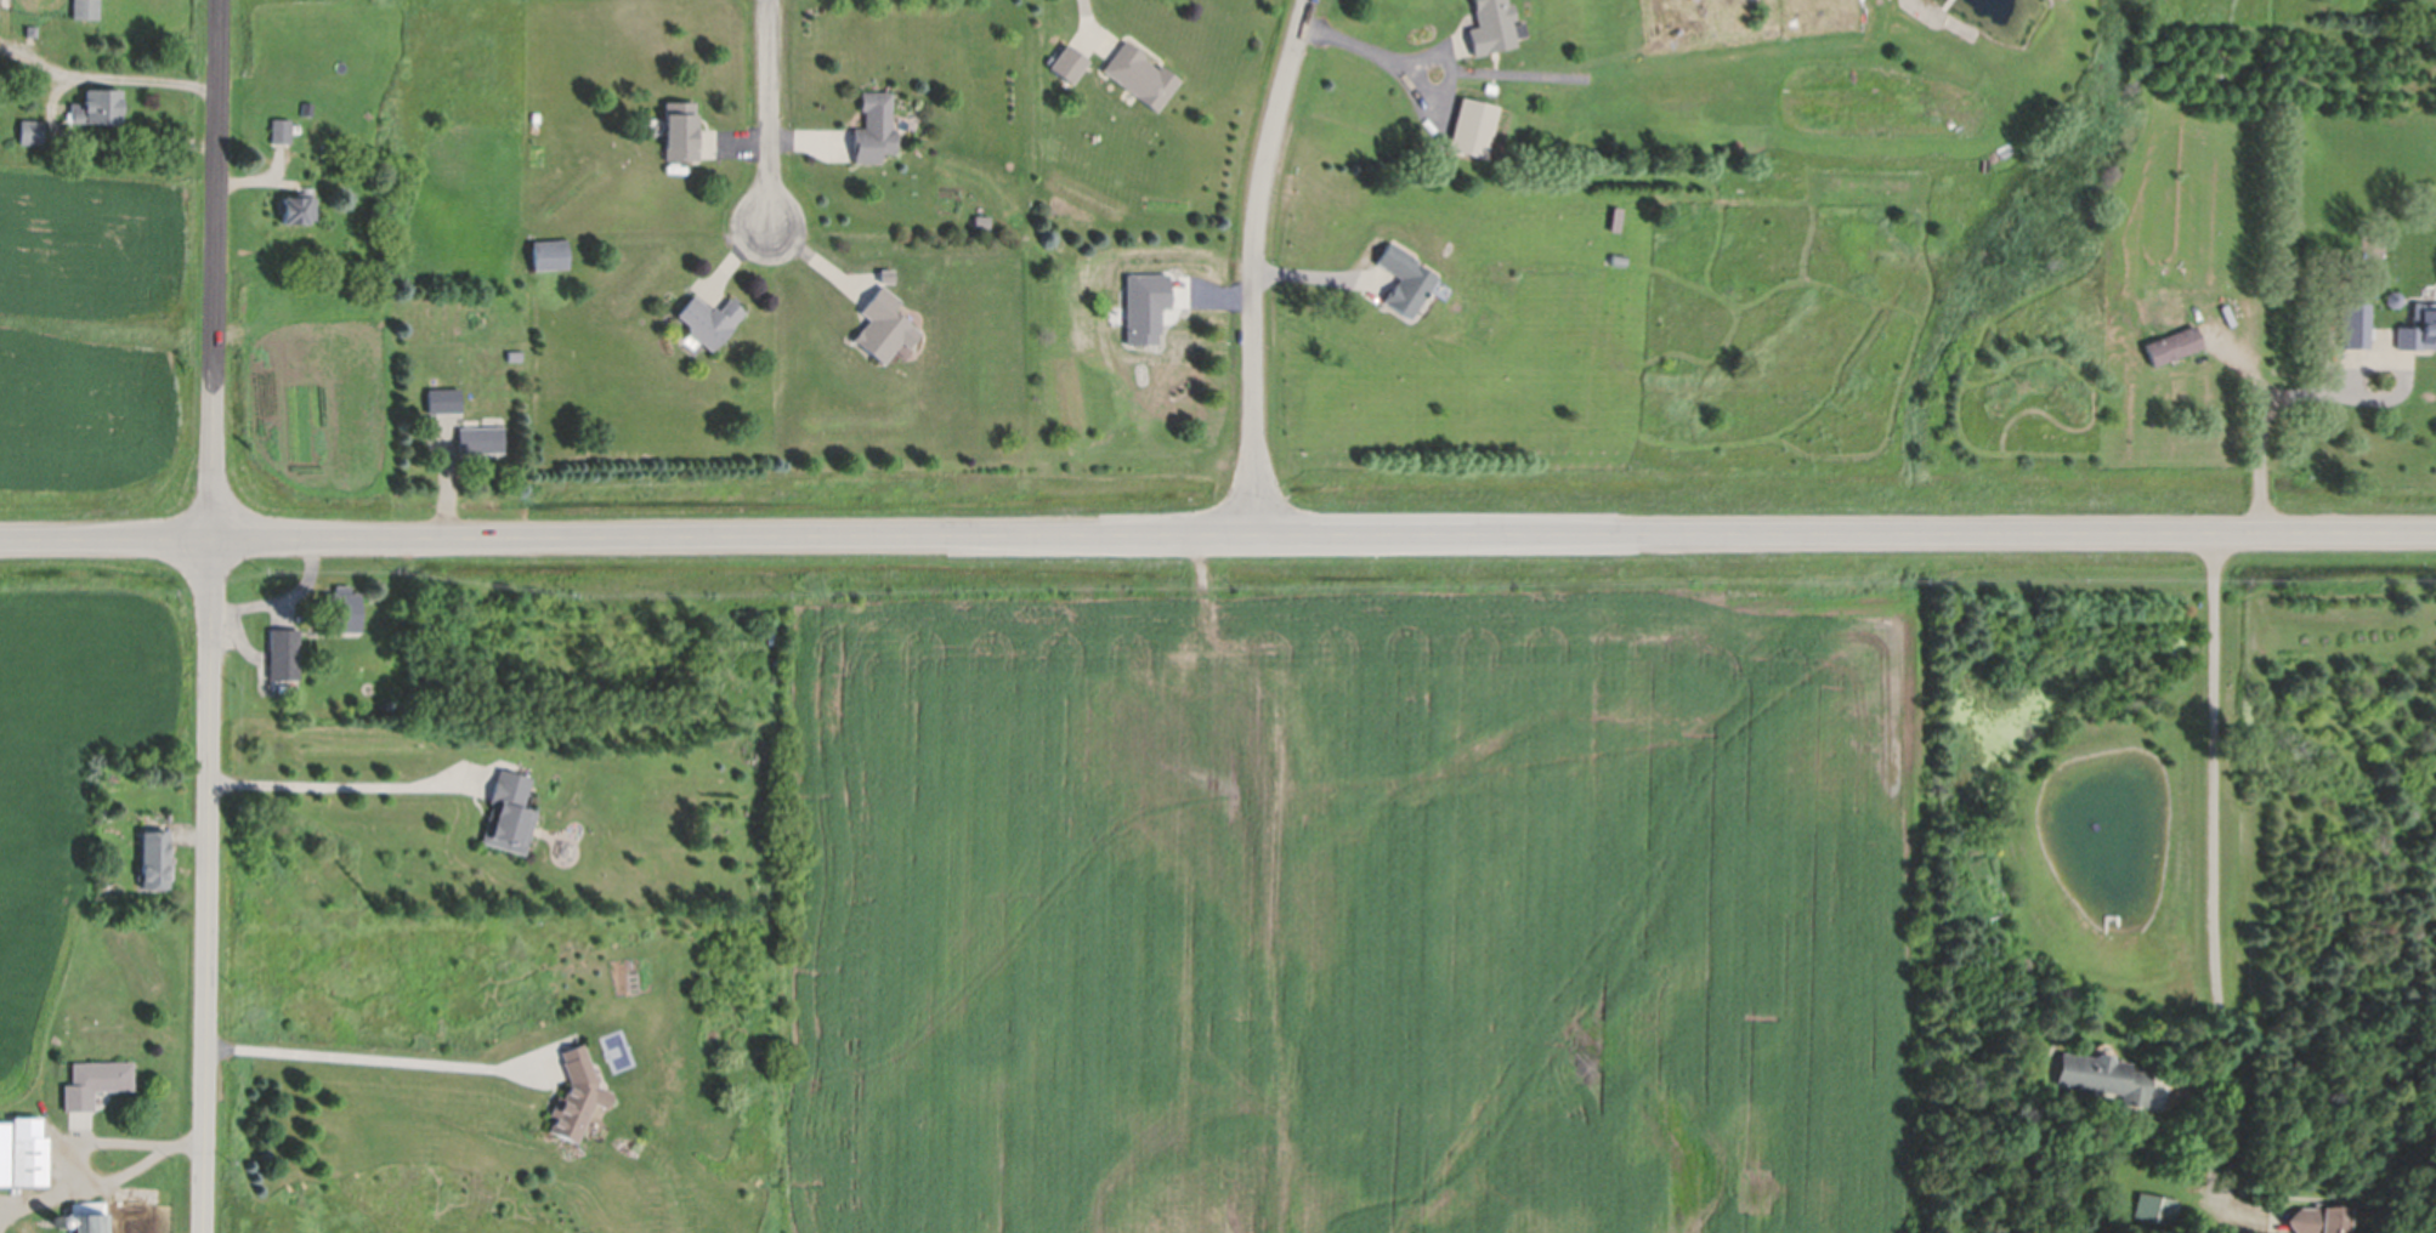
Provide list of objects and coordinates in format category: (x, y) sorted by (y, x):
building: (86, 7)
building: (1494, 24)
building: (30, 27)
road: (1088, 27)
road: (1380, 51)
building: (1067, 58)
road: (107, 70)
building: (1140, 72)
building: (1490, 85)
building: (96, 100)
building: (307, 106)
road: (771, 113)
building: (1472, 121)
building: (873, 123)
building: (281, 126)
building: (681, 126)
building: (30, 127)
building: (298, 201)
building: (1060, 238)
building: (550, 251)
building: (1618, 256)
road: (1254, 266)
building: (886, 271)
building: (1404, 274)
road: (1314, 280)
building: (2392, 295)
building: (710, 317)
building: (2355, 319)
building: (884, 322)
building: (2419, 324)
building: (2172, 340)
building: (515, 353)
road: (2315, 393)
building: (443, 397)
building: (481, 437)
road: (1218, 539)
building: (339, 608)
road: (206, 615)
building: (771, 633)
building: (284, 650)
road: (333, 785)
building: (509, 811)
building: (154, 854)
road: (2219, 871)
road: (374, 1059)
building: (2103, 1073)
building: (95, 1080)
building: (577, 1092)
road: (97, 1137)
building: (29, 1149)
building: (5, 1152)
road: (104, 1182)
building: (2158, 1208)
building: (90, 1216)
building: (2322, 1217)
building: (61, 1221)

